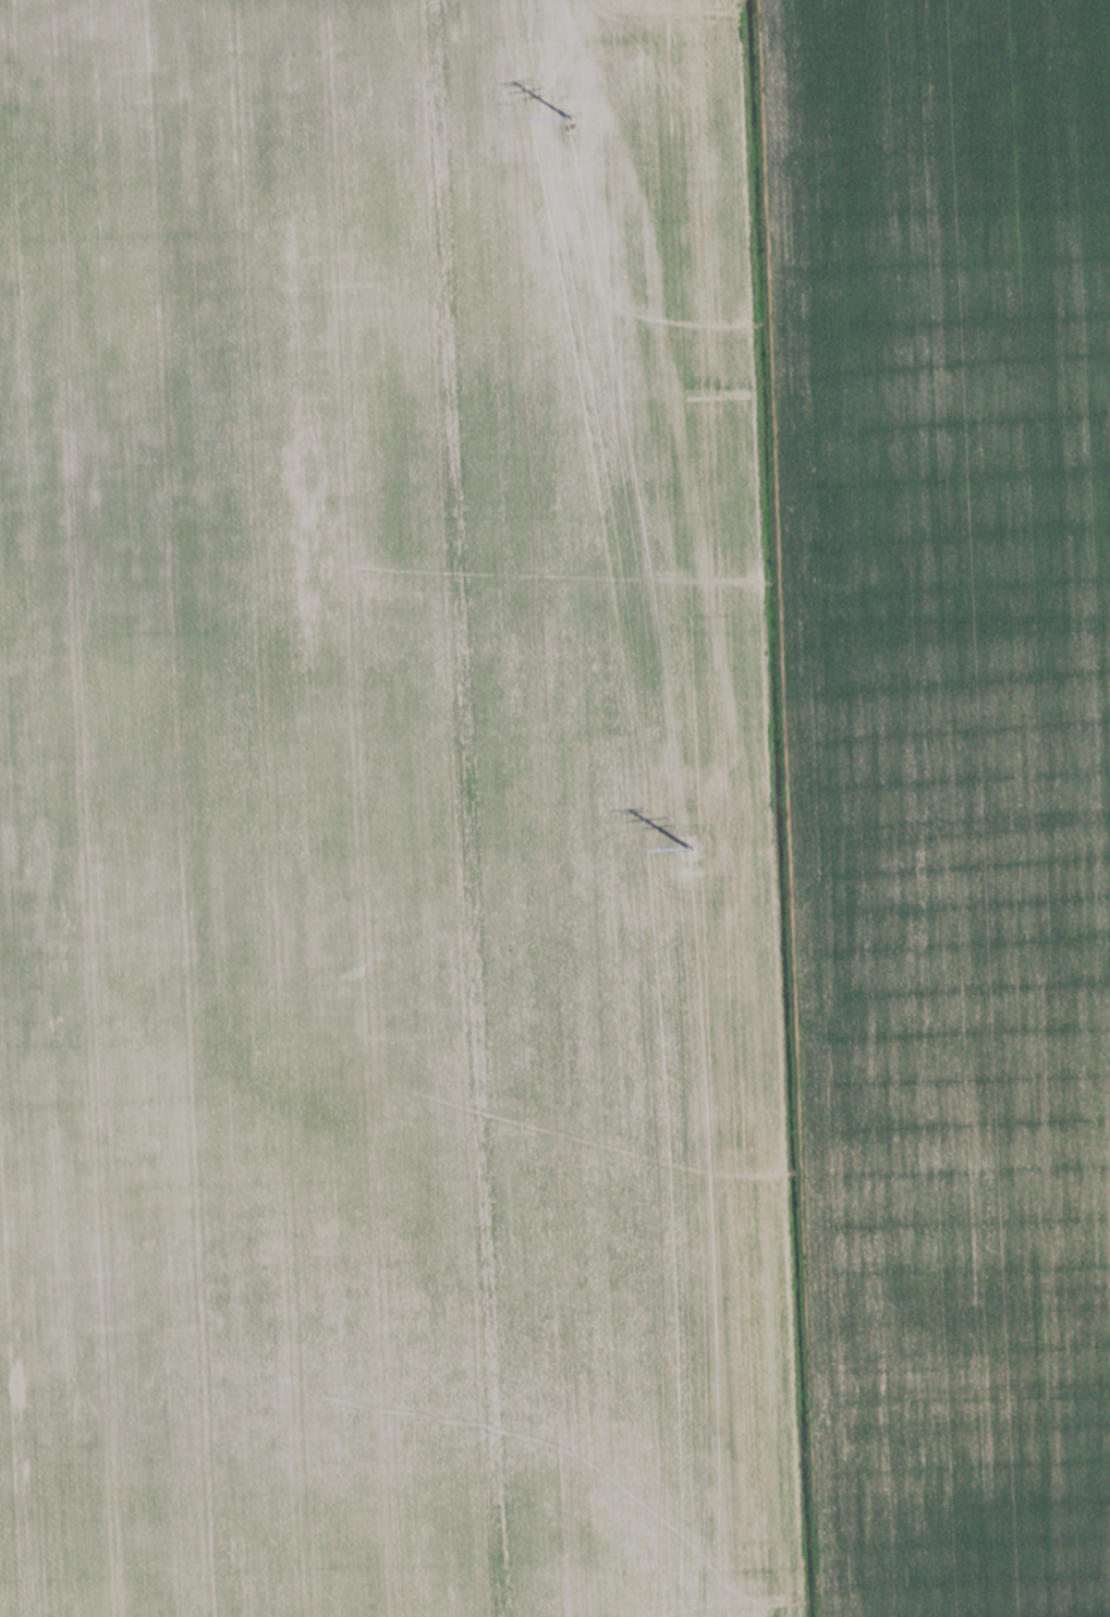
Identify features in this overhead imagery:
power tower: (562, 100)
power tower: (686, 829)

